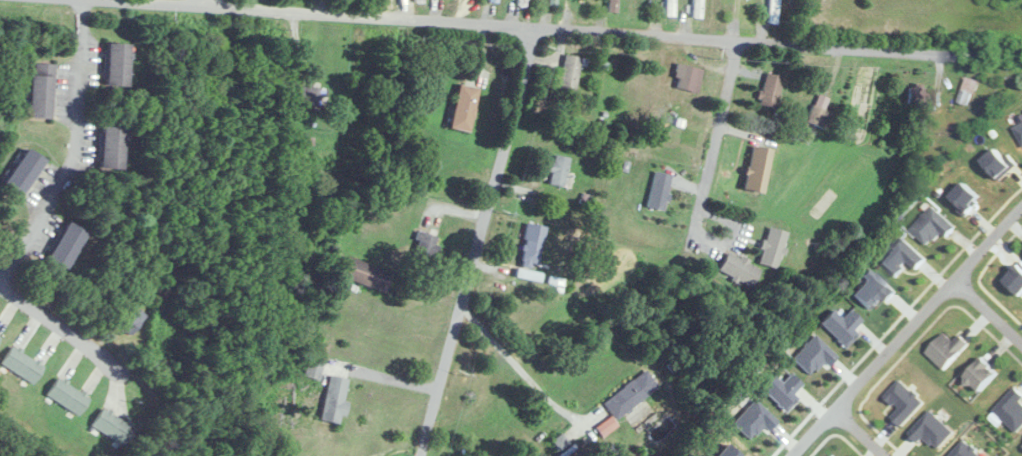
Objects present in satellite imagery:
building: (420, 1)
building: (494, 1)
building: (523, 3)
building: (554, 3)
road: (203, 5)
building: (615, 6)
building: (671, 8)
building: (699, 9)
building: (747, 10)
building: (774, 12)
road: (552, 35)
building: (118, 64)
building: (571, 72)
building: (689, 77)
building: (771, 90)
building: (42, 91)
building: (968, 92)
building: (313, 95)
building: (920, 95)
building: (465, 107)
building: (820, 116)
building: (111, 146)
road: (72, 148)
road: (711, 151)
building: (759, 168)
building: (559, 170)
building: (26, 172)
building: (660, 189)
building: (426, 243)
building: (68, 244)
road: (475, 244)
building: (774, 247)
building: (531, 250)
building: (740, 270)
building: (366, 273)
road: (987, 310)
building: (131, 320)
road: (906, 330)
building: (0, 336)
building: (950, 350)
road: (117, 363)
building: (23, 364)
road: (516, 364)
building: (987, 373)
building: (632, 394)
building: (69, 395)
building: (335, 399)
building: (114, 426)
road: (859, 433)
building: (1021, 445)

